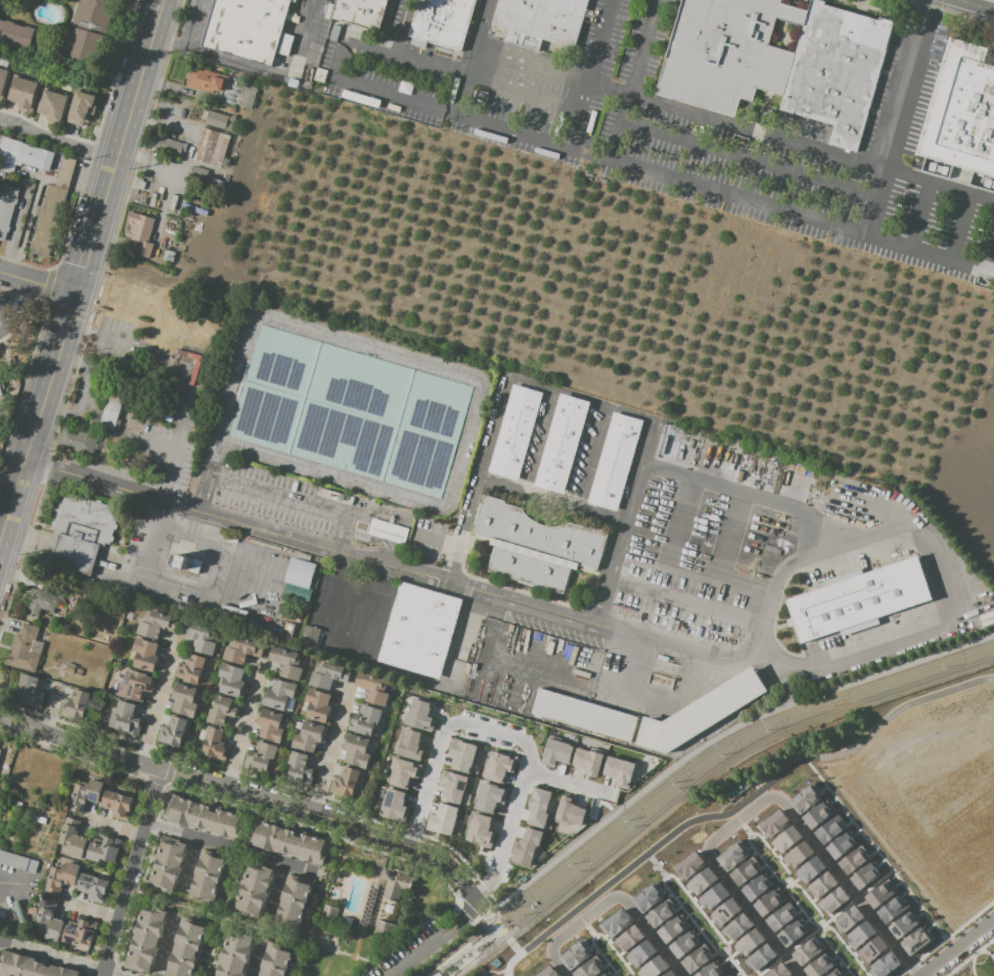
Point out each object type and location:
road: (925, 12)
building: (361, 13)
building: (442, 21)
building: (540, 21)
building: (89, 23)
road: (197, 24)
road: (311, 26)
building: (251, 28)
building: (16, 33)
road: (168, 43)
road: (370, 45)
road: (466, 57)
road: (428, 59)
building: (778, 61)
road: (585, 75)
building: (3, 80)
building: (206, 80)
road: (632, 81)
road: (519, 90)
building: (23, 93)
building: (248, 97)
building: (54, 107)
building: (82, 108)
building: (232, 110)
building: (218, 120)
building: (962, 120)
road: (892, 133)
road: (54, 143)
building: (170, 146)
road: (811, 147)
building: (211, 148)
road: (190, 151)
building: (23, 156)
crop: (180, 156)
road: (747, 162)
road: (659, 179)
building: (139, 183)
building: (172, 203)
building: (52, 207)
building: (7, 209)
road: (920, 218)
road: (90, 230)
road: (960, 230)
building: (141, 232)
building: (169, 256)
road: (991, 267)
road: (35, 284)
road: (45, 285)
road: (10, 290)
traffic signals: (72, 294)
road: (39, 306)
road: (65, 310)
parking lot: (9, 318)
road: (7, 323)
road: (82, 389)
building: (1, 390)
road: (20, 400)
building: (322, 404)
building: (110, 411)
building: (516, 432)
building: (75, 440)
building: (563, 444)
road: (182, 445)
road: (487, 449)
building: (616, 462)
road: (636, 476)
road: (745, 491)
crop: (969, 492)
road: (279, 496)
road: (551, 500)
road: (11, 502)
building: (83, 531)
building: (387, 531)
road: (29, 539)
road: (438, 541)
road: (309, 543)
road: (669, 543)
building: (539, 545)
road: (931, 547)
road: (457, 552)
building: (304, 556)
road: (723, 558)
parking lot: (173, 563)
road: (121, 568)
road: (609, 572)
building: (300, 573)
road: (195, 594)
building: (861, 599)
building: (40, 601)
road: (685, 601)
building: (157, 624)
building: (420, 630)
building: (200, 638)
road: (687, 644)
building: (25, 649)
building: (241, 650)
road: (342, 652)
building: (146, 655)
building: (287, 662)
building: (193, 669)
building: (73, 671)
building: (330, 675)
building: (231, 680)
building: (135, 684)
road: (786, 684)
building: (373, 687)
building: (30, 690)
building: (280, 694)
road: (160, 696)
building: (184, 700)
building: (76, 705)
building: (318, 706)
road: (51, 708)
building: (223, 711)
building: (704, 713)
building: (586, 714)
building: (125, 718)
building: (418, 719)
building: (365, 720)
road: (245, 725)
building: (270, 725)
building: (174, 731)
road: (500, 735)
building: (309, 736)
road: (719, 738)
building: (216, 743)
building: (410, 744)
building: (0, 749)
building: (0, 750)
road: (332, 750)
building: (357, 751)
building: (556, 751)
building: (464, 757)
building: (261, 758)
road: (174, 759)
building: (588, 760)
railway: (725, 764)
building: (498, 766)
building: (300, 767)
railway: (686, 770)
building: (619, 771)
building: (402, 772)
road: (169, 773)
road: (154, 780)
building: (346, 781)
road: (562, 782)
road: (250, 794)
building: (85, 795)
building: (482, 796)
building: (806, 797)
building: (494, 799)
road: (764, 799)
building: (117, 803)
building: (448, 803)
building: (394, 805)
building: (538, 807)
building: (818, 814)
building: (567, 815)
building: (202, 817)
building: (774, 822)
road: (114, 826)
building: (480, 829)
building: (829, 829)
building: (72, 838)
building: (786, 839)
building: (292, 843)
building: (841, 845)
building: (528, 847)
road: (229, 848)
building: (104, 850)
building: (797, 854)
building: (733, 856)
building: (853, 860)
building: (18, 861)
road: (191, 864)
building: (168, 865)
building: (690, 865)
building: (810, 869)
road: (129, 872)
building: (745, 872)
building: (865, 875)
building: (60, 877)
building: (208, 877)
road: (321, 877)
building: (702, 881)
building: (395, 884)
building: (821, 884)
road: (13, 886)
road: (233, 886)
building: (93, 887)
building: (756, 887)
building: (254, 889)
road: (278, 890)
building: (879, 894)
road: (610, 896)
building: (714, 896)
building: (648, 897)
road: (586, 899)
road: (321, 900)
building: (833, 900)
building: (294, 901)
building: (769, 901)
road: (466, 907)
road: (90, 908)
building: (891, 909)
building: (725, 911)
building: (659, 914)
building: (780, 917)
building: (849, 917)
road: (443, 921)
building: (616, 922)
building: (49, 924)
road: (484, 925)
building: (903, 925)
building: (736, 927)
building: (673, 928)
road: (499, 929)
building: (793, 932)
building: (80, 933)
building: (861, 934)
building: (629, 938)
building: (145, 940)
road: (436, 940)
building: (916, 940)
building: (749, 942)
road: (484, 943)
building: (684, 944)
railway: (468, 946)
road: (955, 946)
parking lot: (421, 947)
road: (165, 948)
building: (186, 948)
building: (872, 949)
park: (339, 950)
building: (806, 952)
road: (50, 953)
building: (641, 953)
building: (576, 954)
building: (233, 955)
building: (760, 957)
building: (695, 959)
road: (258, 960)
building: (277, 960)
railway: (479, 960)
building: (819, 965)
building: (884, 965)
building: (32, 966)
building: (653, 966)
building: (589, 968)
road: (369, 970)
building: (710, 970)
road: (491, 971)
building: (778, 971)
building: (548, 972)
road: (112, 973)
building: (670, 973)
building: (835, 973)
building: (607, 974)
building: (437, 975)
road: (481, 975)
building: (726, 975)

